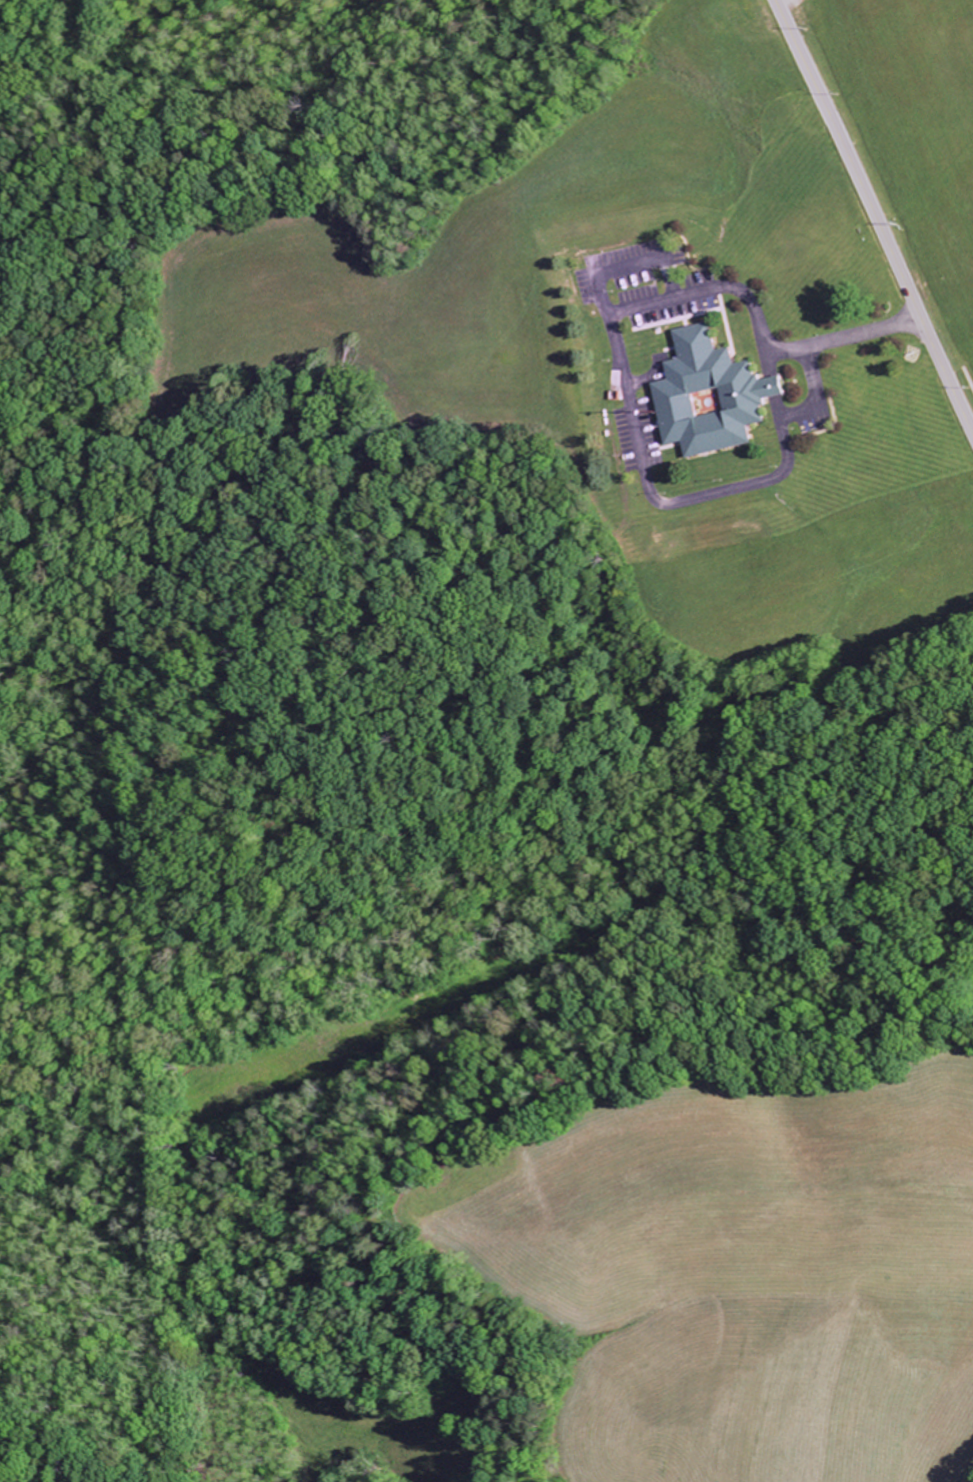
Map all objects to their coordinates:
road: (873, 215)
building: (714, 396)

